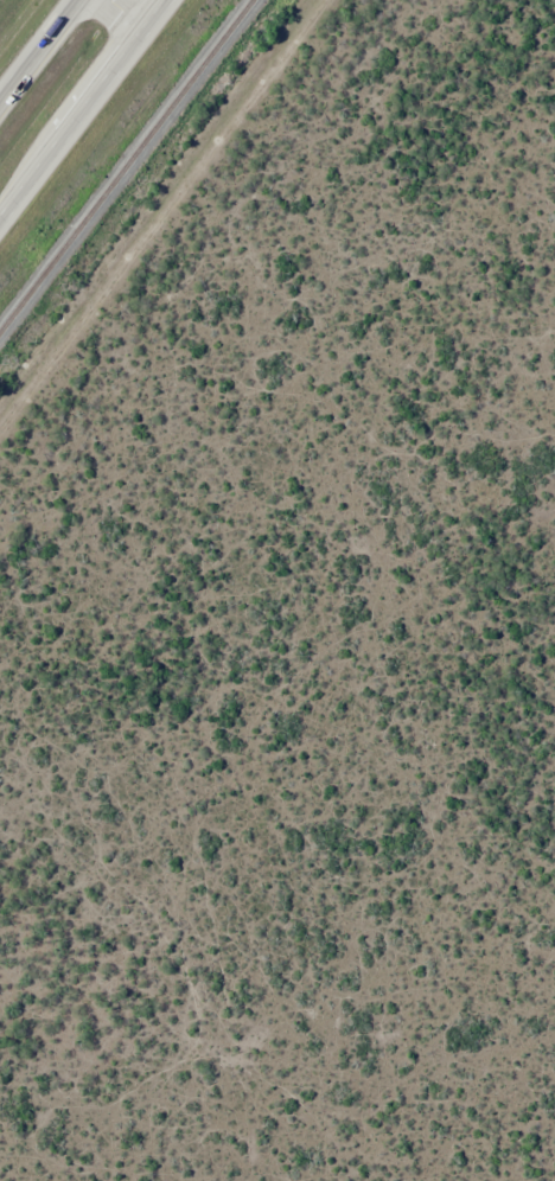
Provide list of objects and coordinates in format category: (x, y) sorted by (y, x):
road: (138, 14)
road: (39, 51)
road: (90, 117)
railway: (125, 164)

